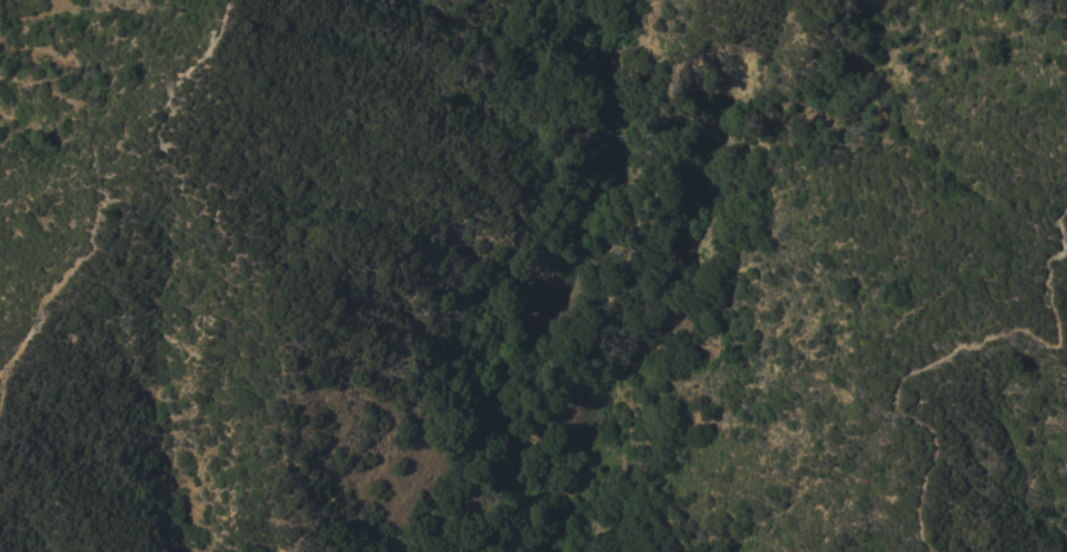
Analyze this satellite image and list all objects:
park: (504, 276)
road: (944, 353)

